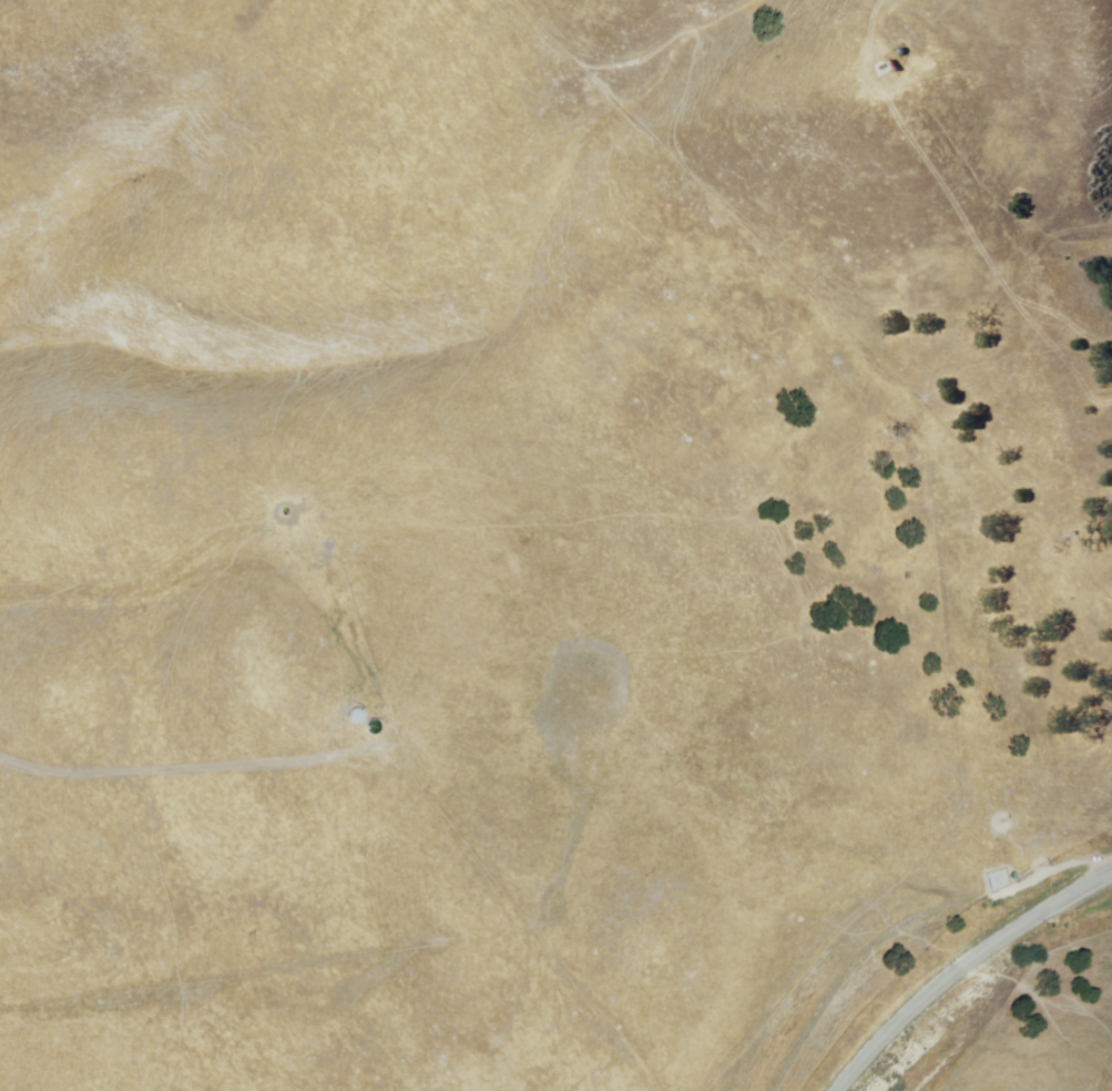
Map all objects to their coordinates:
building: (351, 717)
road: (170, 772)
road: (959, 963)

